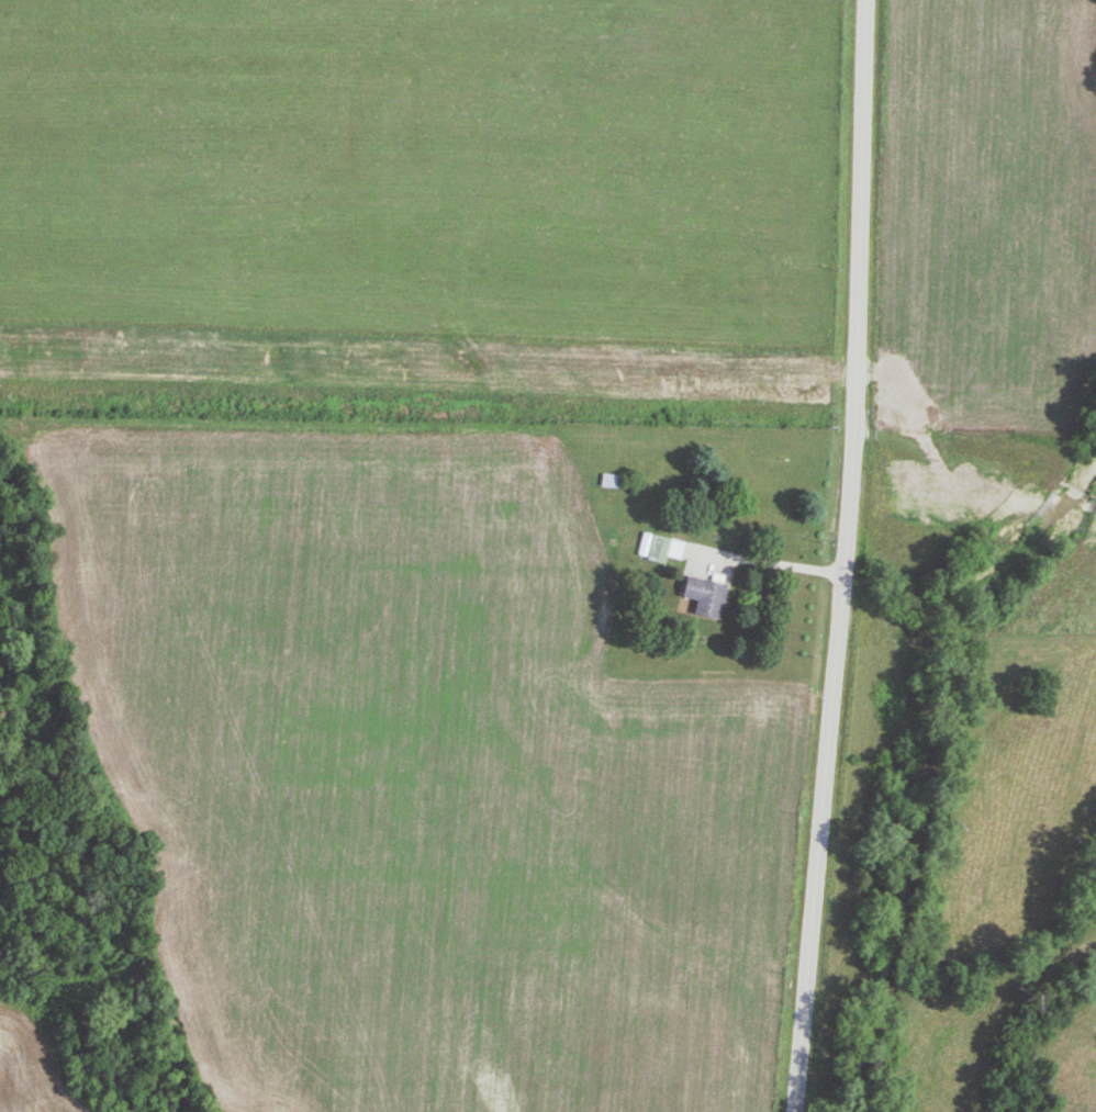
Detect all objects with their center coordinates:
building: (612, 481)
building: (658, 548)
road: (843, 557)
building: (704, 596)

